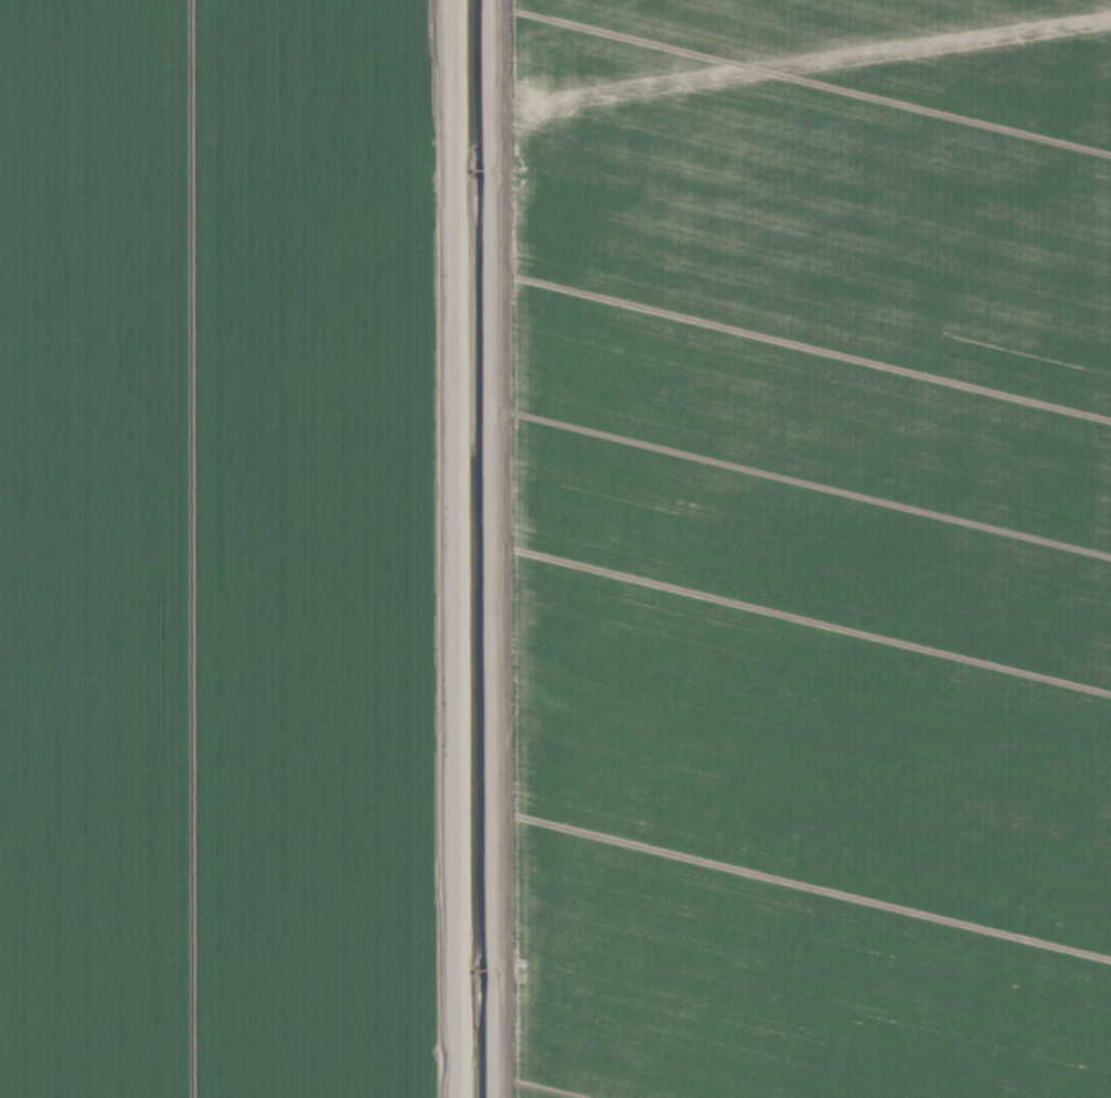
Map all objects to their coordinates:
road: (452, 548)
crop: (555, 548)

